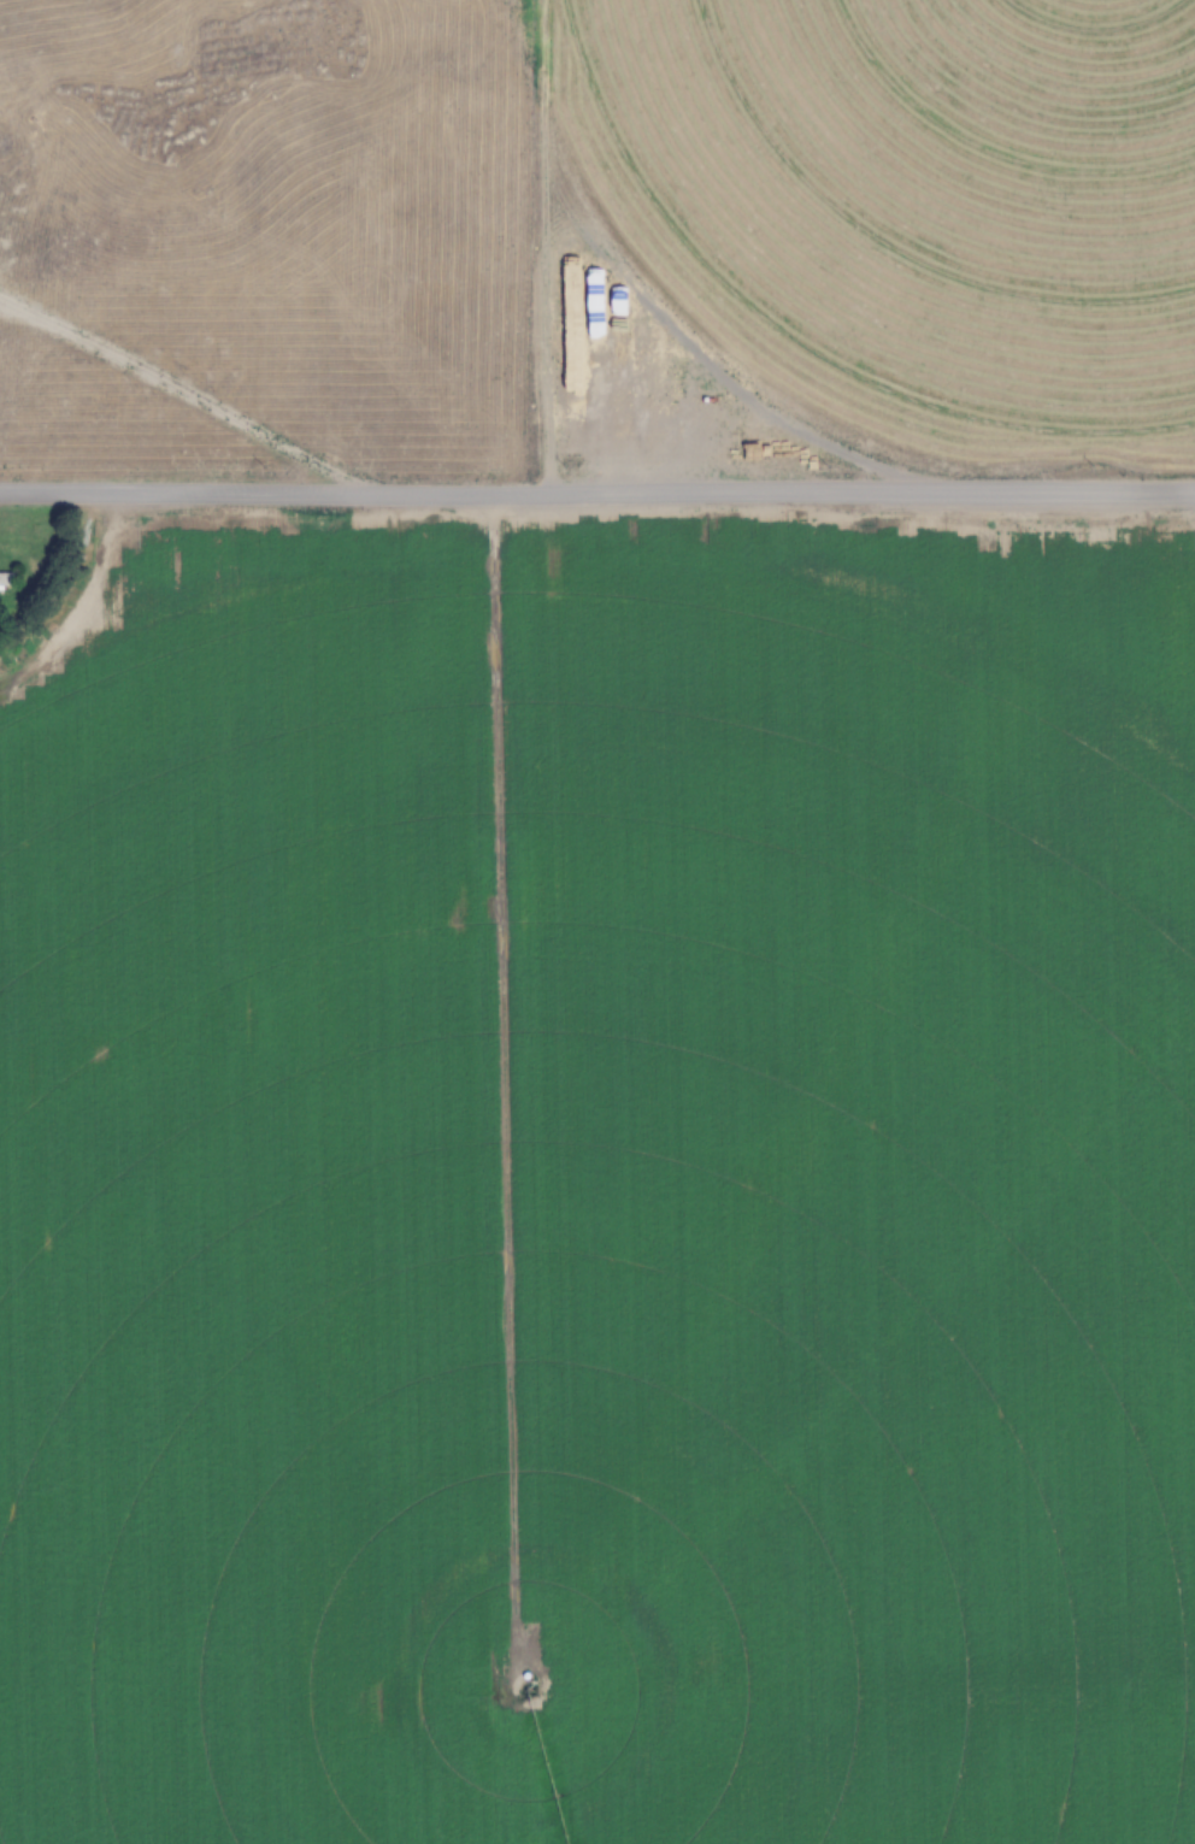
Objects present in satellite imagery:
building: (577, 363)
building: (604, 365)
building: (626, 369)
building: (648, 370)
building: (669, 372)
road: (596, 495)
building: (6, 581)

